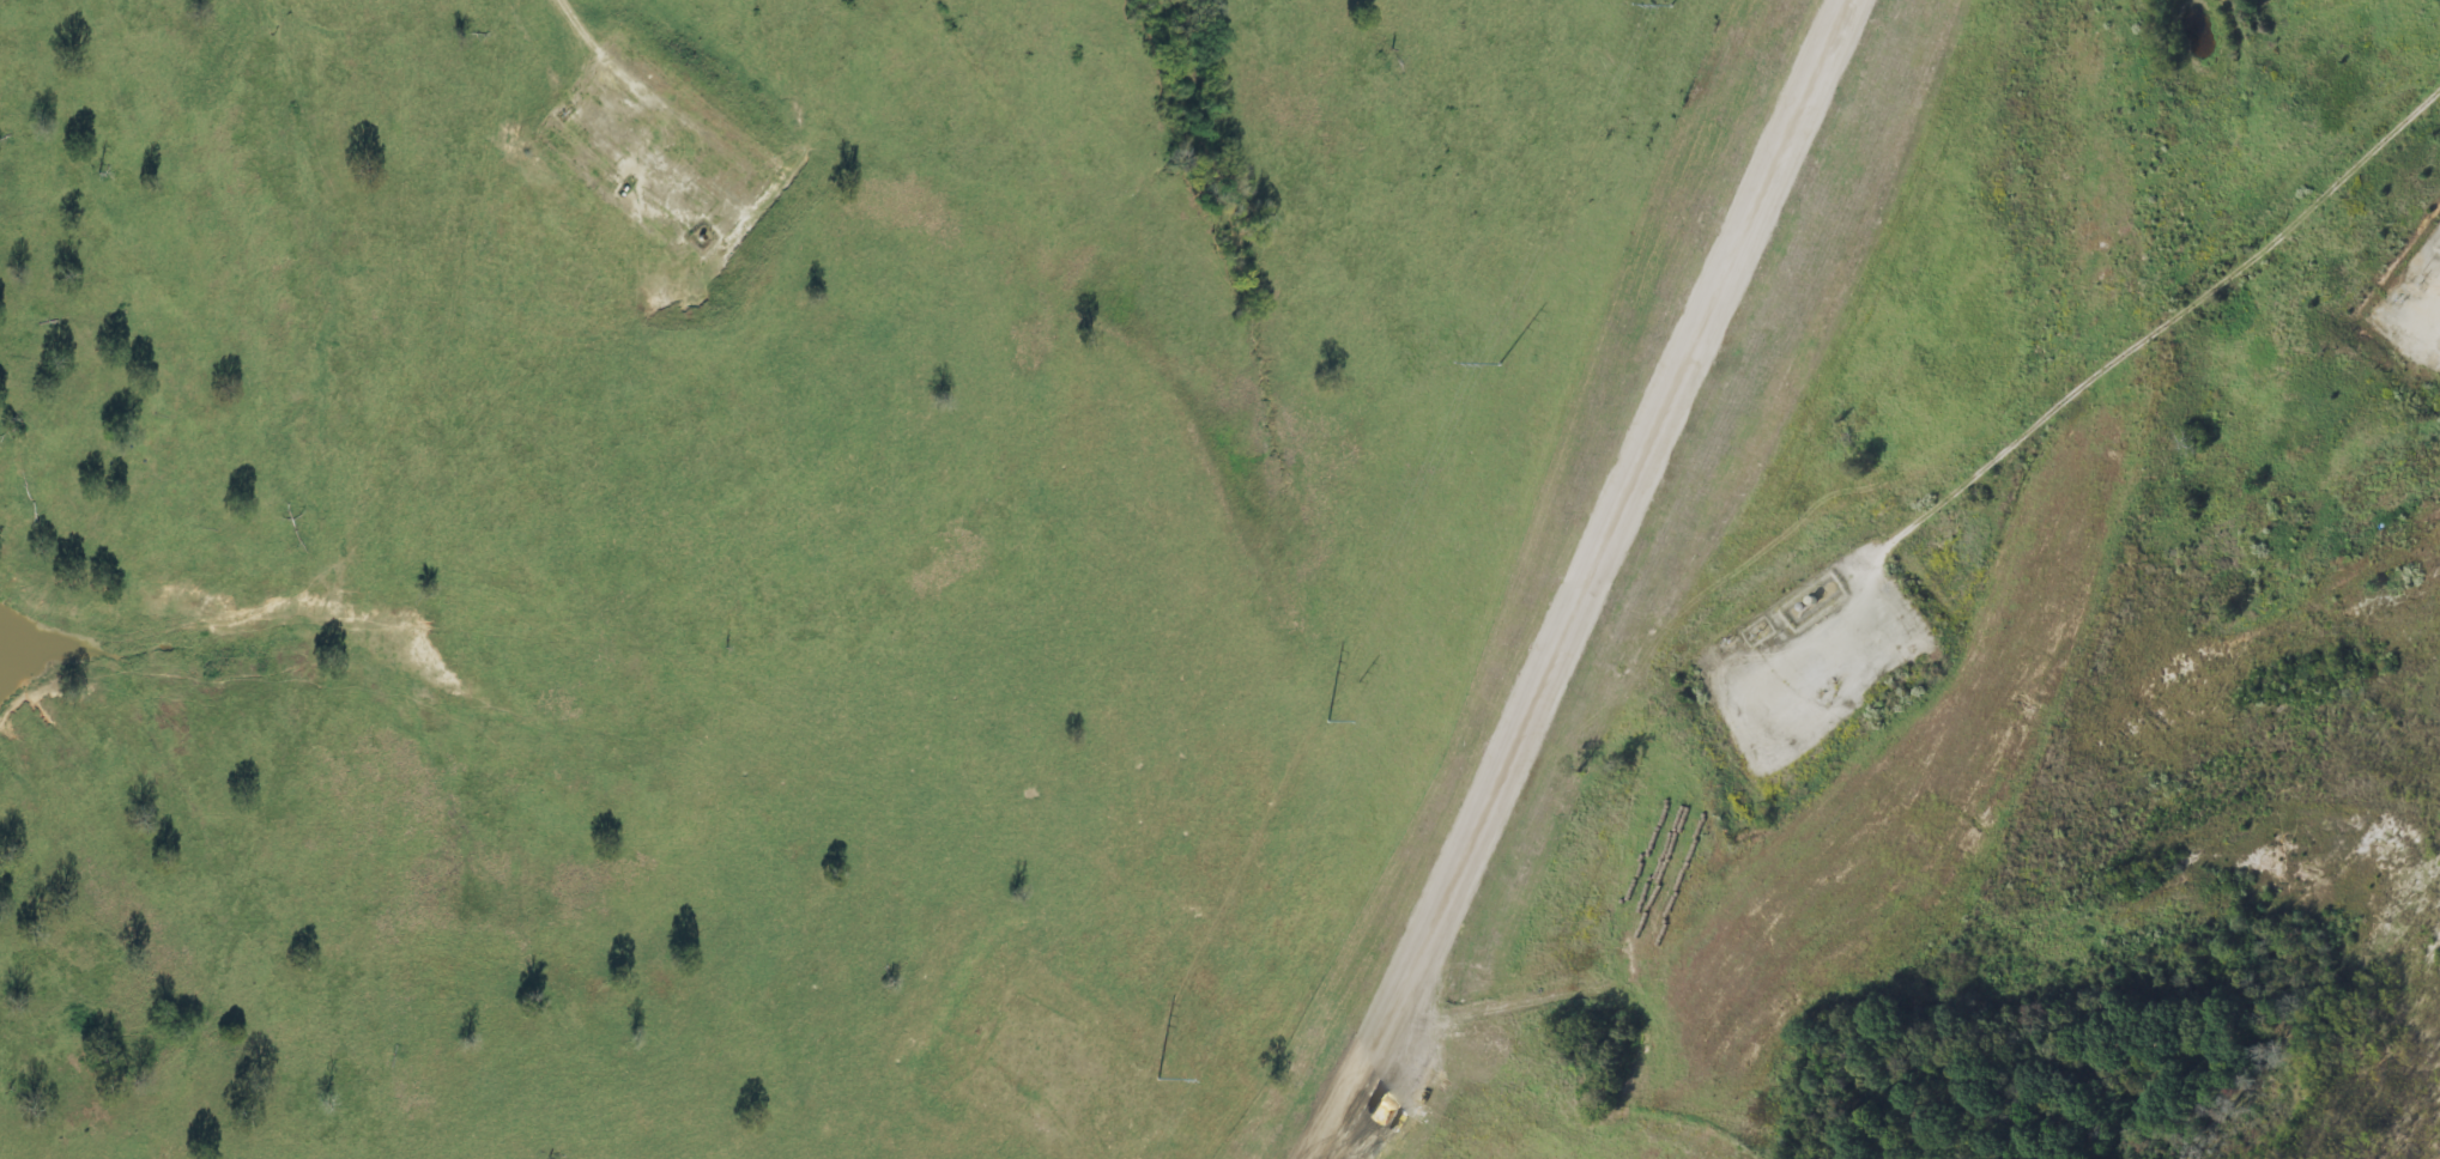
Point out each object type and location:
road: (216, 327)
road: (1586, 581)

